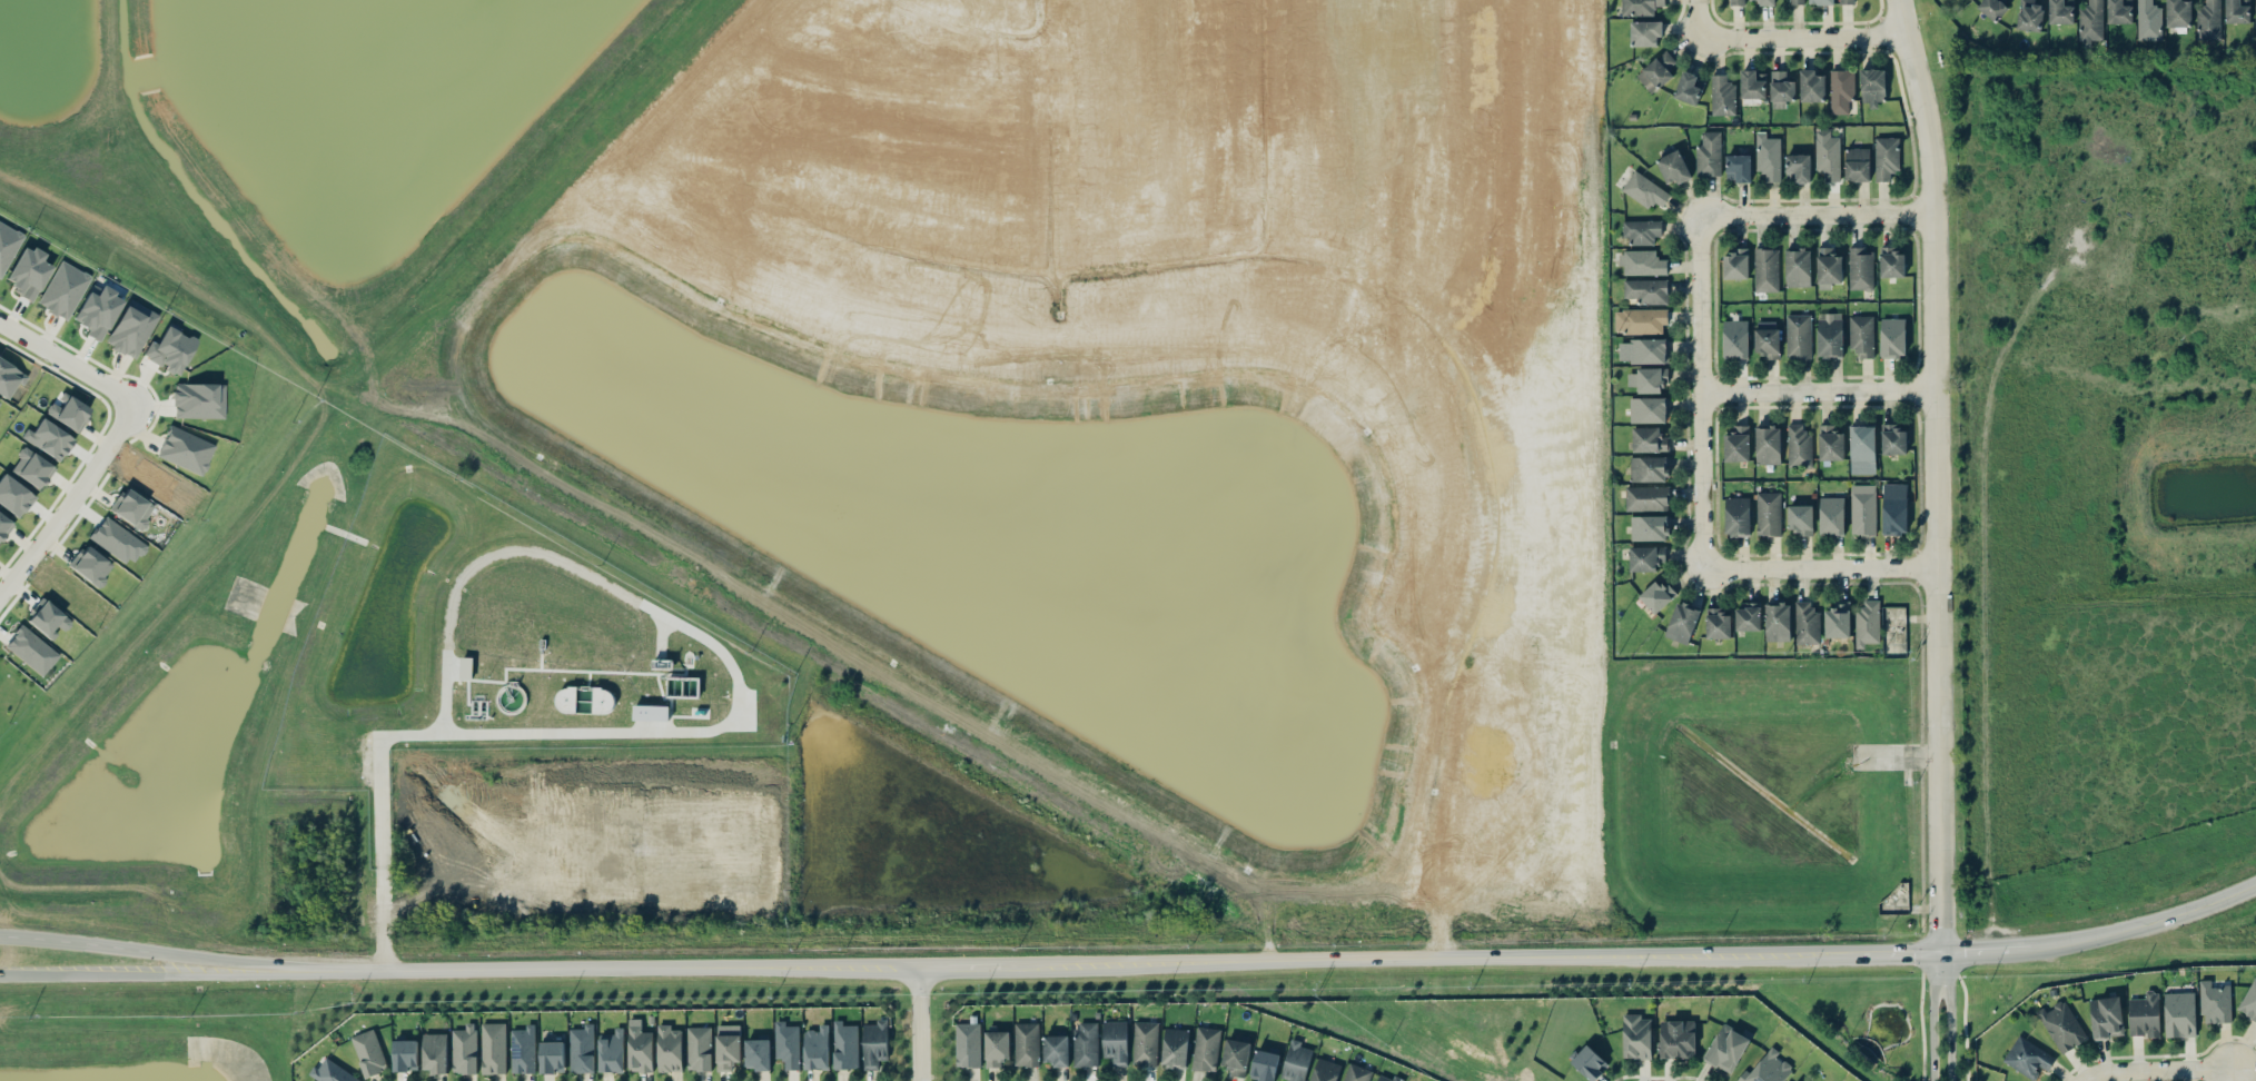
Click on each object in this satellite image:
building: (1795, 1)
building: (1821, 1)
building: (1847, 1)
building: (1736, 2)
building: (1767, 2)
building: (1640, 7)
building: (1992, 8)
building: (2060, 12)
building: (2119, 12)
building: (2236, 12)
building: (2178, 13)
road: (1699, 14)
building: (2029, 14)
building: (2255, 18)
building: (2148, 20)
building: (2208, 20)
building: (2090, 22)
building: (1645, 32)
road: (1804, 36)
building: (1656, 71)
building: (1753, 85)
building: (1811, 86)
building: (1872, 86)
building: (1690, 88)
building: (1781, 89)
building: (1841, 90)
building: (1722, 96)
building: (1709, 155)
building: (1828, 155)
building: (1768, 157)
building: (1886, 158)
building: (1857, 163)
building: (1673, 167)
building: (1739, 168)
building: (1799, 168)
building: (1644, 190)
road: (1819, 214)
building: (1641, 231)
building: (7, 244)
building: (1891, 261)
building: (1642, 262)
building: (1735, 264)
building: (1798, 267)
building: (1828, 268)
building: (1860, 268)
building: (1765, 269)
building: (28, 271)
building: (63, 289)
building: (1645, 290)
building: (97, 310)
building: (1641, 320)
building: (131, 328)
building: (1829, 335)
building: (1861, 335)
building: (1798, 336)
building: (1892, 337)
building: (1735, 339)
building: (1767, 341)
building: (170, 348)
building: (1643, 350)
road: (67, 363)
building: (9, 378)
road: (1702, 387)
road: (1821, 389)
building: (198, 400)
building: (1649, 409)
building: (68, 411)
building: (48, 438)
building: (1649, 439)
building: (1893, 439)
building: (1830, 443)
building: (1736, 444)
building: (1768, 444)
building: (1799, 446)
building: (186, 449)
building: (1862, 449)
building: (1649, 468)
building: (34, 469)
road: (1939, 479)
crop: (2104, 483)
building: (13, 495)
building: (1646, 498)
road: (72, 503)
building: (132, 508)
building: (1894, 508)
building: (1863, 509)
building: (1768, 513)
building: (1736, 516)
building: (1831, 516)
building: (1801, 519)
building: (3, 525)
building: (1649, 527)
building: (118, 540)
building: (1646, 557)
building: (91, 566)
road: (1818, 568)
building: (1656, 595)
building: (1749, 617)
building: (49, 619)
building: (1838, 621)
building: (1682, 622)
building: (1778, 622)
building: (1807, 623)
building: (1868, 623)
building: (1718, 624)
building: (1893, 629)
building: (31, 649)
building: (465, 667)
building: (651, 712)
road: (708, 733)
road: (1327, 919)
road: (328, 924)
road: (229, 926)
road: (151, 929)
road: (58, 931)
road: (914, 936)
road: (2144, 939)
road: (958, 956)
road: (1424, 960)
road: (1982, 961)
road: (592, 964)
road: (1892, 964)
road: (249, 968)
road: (126, 971)
road: (11, 973)
building: (2249, 1001)
building: (2215, 1003)
building: (2179, 1014)
building: (2144, 1015)
building: (2106, 1018)
road: (916, 1019)
road: (1930, 1021)
road: (1947, 1021)
building: (2064, 1025)
building: (1636, 1037)
building: (1678, 1039)
building: (1115, 1041)
building: (875, 1043)
building: (1086, 1043)
building: (1145, 1043)
building: (786, 1044)
building: (967, 1044)
building: (1026, 1044)
building: (845, 1045)
building: (728, 1047)
building: (493, 1048)
building: (699, 1048)
building: (817, 1048)
building: (997, 1048)
building: (1175, 1048)
building: (1726, 1048)
building: (582, 1049)
building: (670, 1049)
building: (1206, 1049)
building: (464, 1050)
building: (523, 1050)
building: (640, 1050)
building: (1057, 1050)
building: (612, 1051)
building: (435, 1052)
building: (369, 1053)
building: (759, 1053)
building: (405, 1054)
building: (2030, 1055)
building: (552, 1057)
building: (1236, 1057)
building: (1296, 1061)
building: (1590, 1063)
building: (1264, 1064)
building: (1768, 1067)
building: (1325, 1070)
road: (2150, 1070)
building: (332, 1072)
building: (1357, 1073)
building: (1385, 1078)
road: (2078, 1080)

